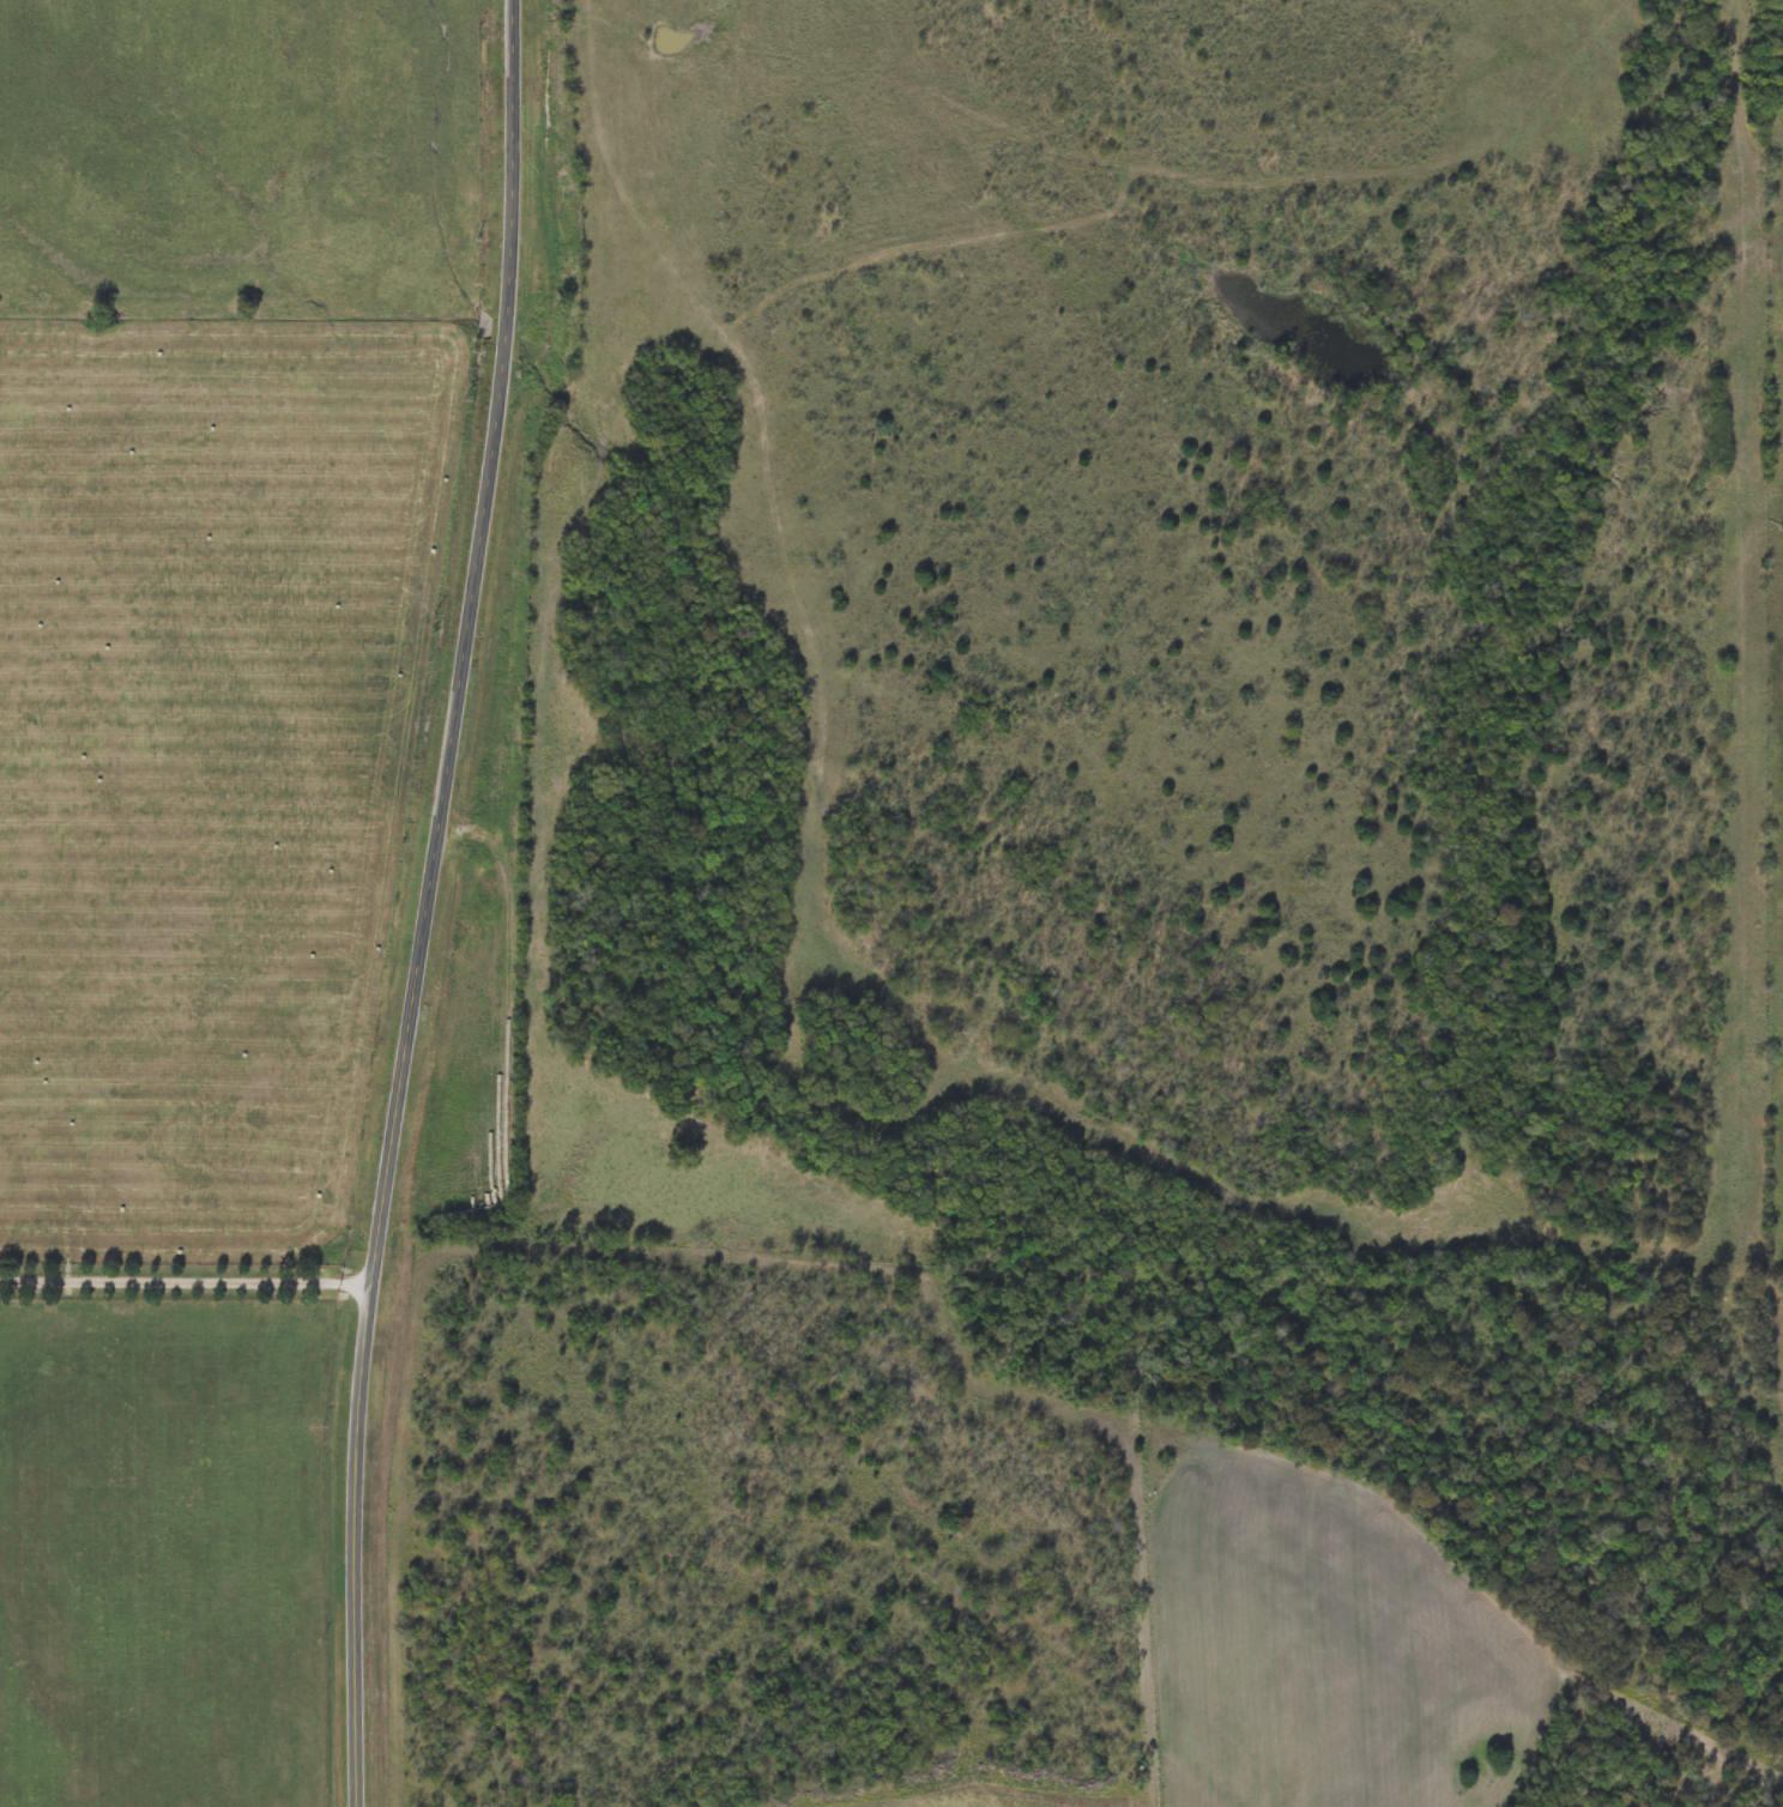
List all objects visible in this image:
road: (424, 902)
road: (187, 1282)

